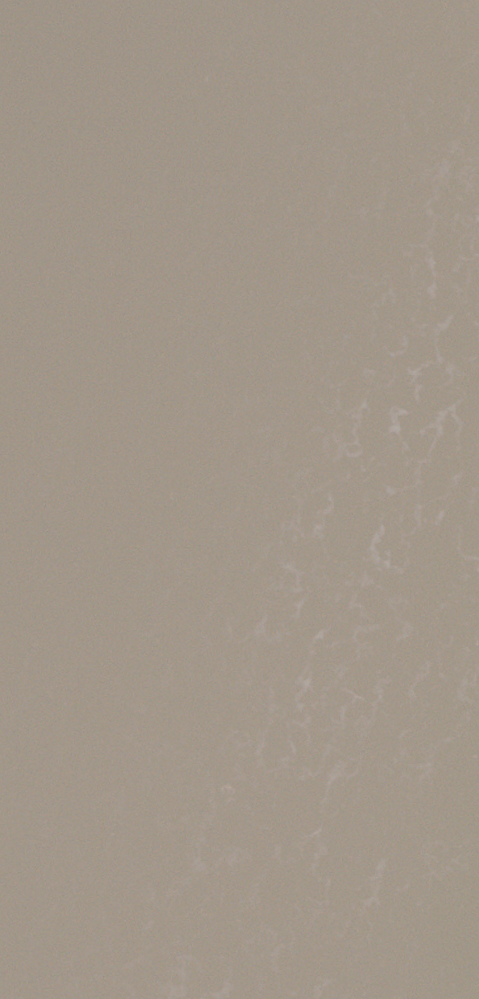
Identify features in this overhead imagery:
river: (165, 499)

